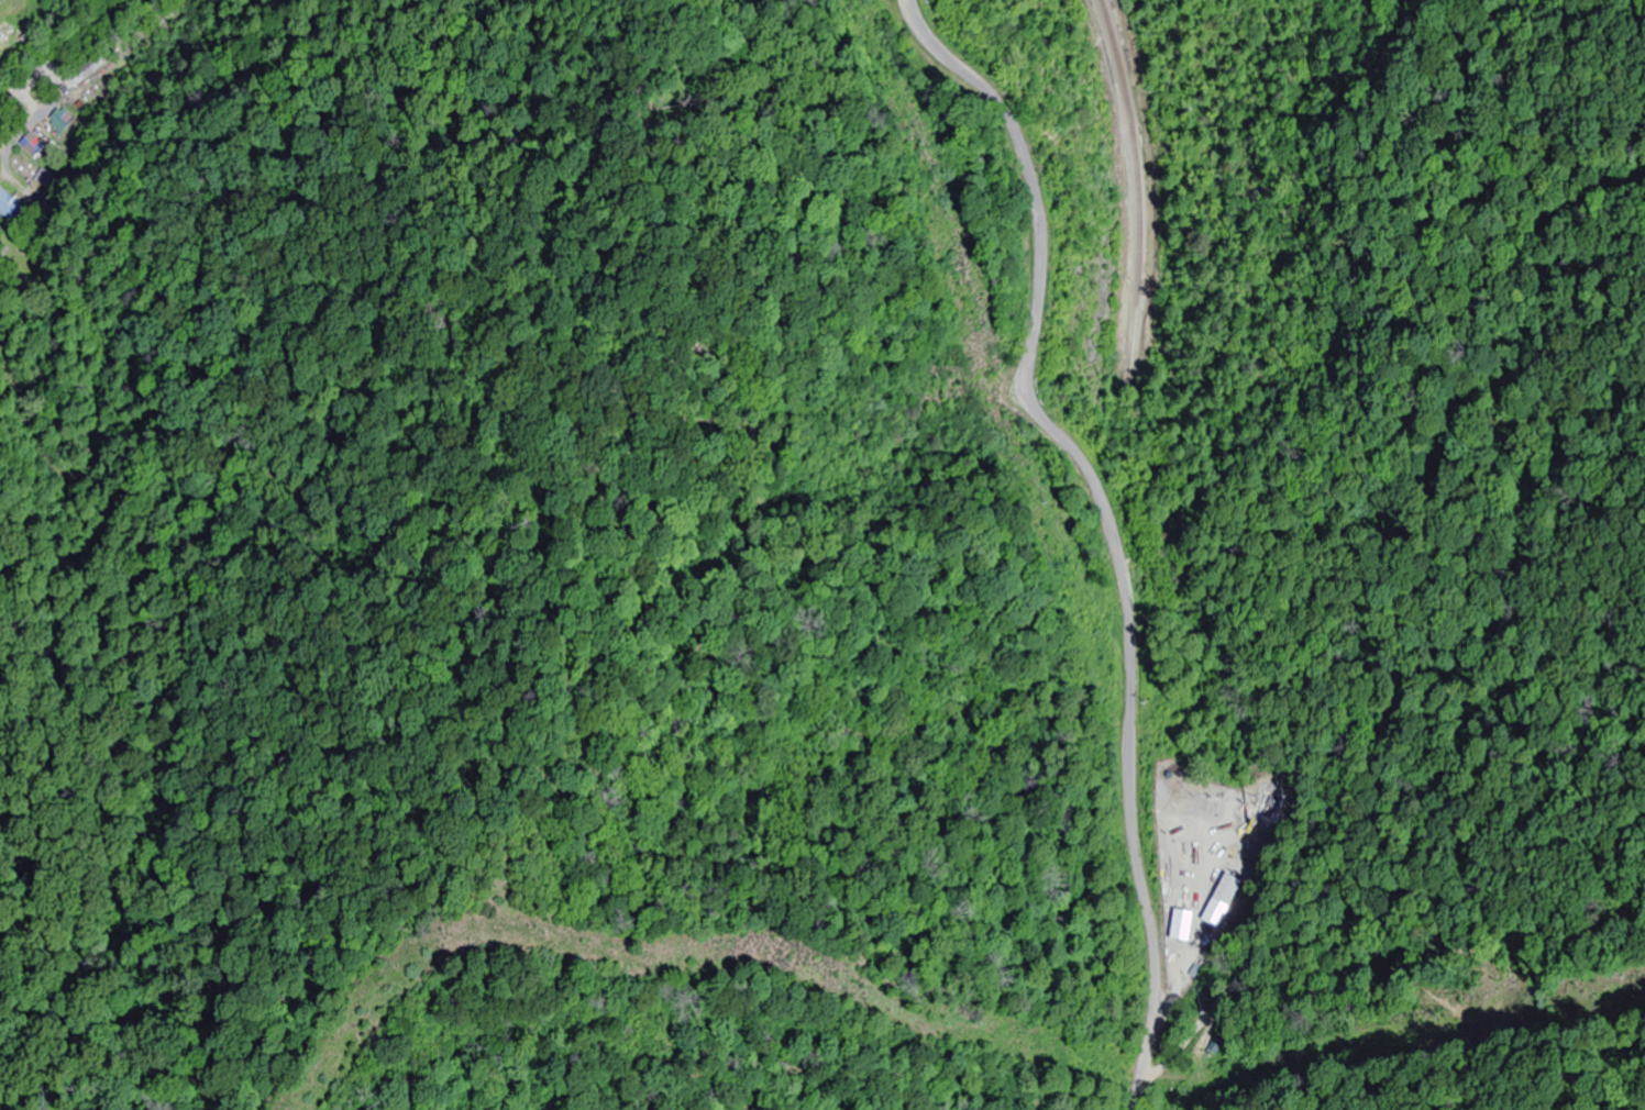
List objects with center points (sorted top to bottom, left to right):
building: (11, 1)
road: (29, 14)
building: (7, 32)
building: (85, 73)
building: (60, 120)
railway: (1135, 193)
building: (11, 210)
road: (1098, 551)
building: (1228, 890)

